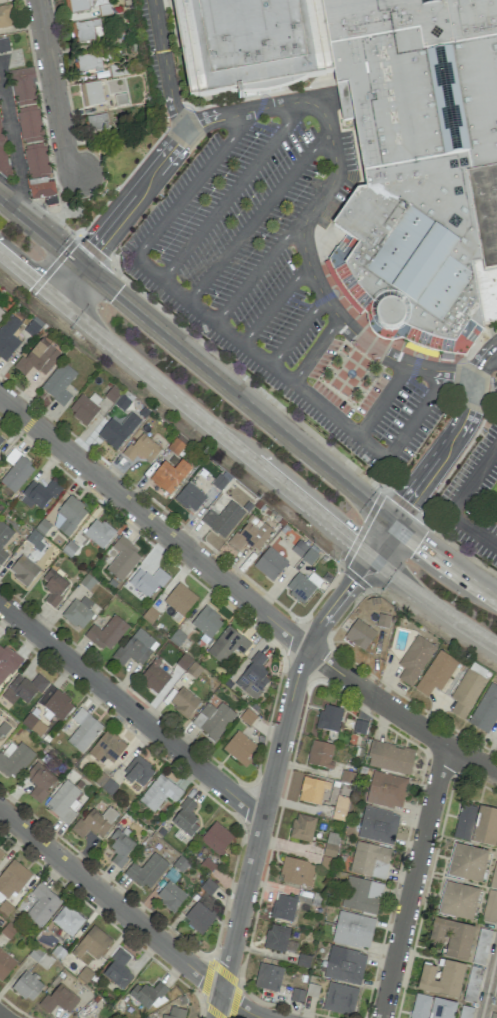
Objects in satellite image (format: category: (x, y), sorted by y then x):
building: (86, 6)
building: (6, 16)
building: (87, 30)
building: (250, 45)
building: (4, 46)
parking lot: (155, 49)
building: (87, 63)
road: (164, 67)
road: (51, 75)
building: (91, 94)
building: (26, 104)
road: (263, 108)
building: (96, 122)
road: (11, 146)
building: (2, 155)
building: (36, 160)
road: (73, 163)
building: (416, 163)
road: (333, 177)
road: (193, 183)
building: (42, 190)
road: (232, 191)
road: (132, 197)
building: (484, 213)
road: (258, 215)
road: (38, 232)
traffic signals: (93, 246)
road: (260, 269)
road: (65, 280)
traffic signals: (35, 282)
parking lot: (280, 282)
traffic signals: (114, 295)
road: (275, 302)
building: (1, 312)
road: (296, 331)
road: (353, 333)
building: (8, 337)
road: (315, 350)
road: (260, 357)
building: (38, 358)
building: (58, 383)
road: (383, 399)
building: (85, 407)
road: (416, 415)
building: (117, 431)
road: (284, 435)
road: (14, 438)
road: (452, 438)
building: (0, 439)
building: (141, 449)
road: (244, 454)
building: (16, 471)
building: (169, 476)
building: (39, 494)
parking lot: (473, 494)
building: (189, 497)
traffic signals: (406, 503)
road: (454, 504)
building: (68, 516)
building: (223, 519)
building: (98, 533)
building: (250, 535)
building: (4, 539)
traffic signals: (352, 543)
traffic signals: (418, 543)
building: (123, 559)
building: (269, 564)
building: (23, 570)
building: (147, 582)
traffic signals: (354, 582)
building: (302, 586)
building: (53, 587)
road: (241, 595)
building: (180, 599)
building: (79, 611)
building: (206, 624)
building: (107, 633)
building: (359, 634)
building: (228, 644)
building: (136, 648)
building: (414, 659)
road: (302, 660)
building: (7, 663)
building: (436, 673)
building: (155, 676)
building: (253, 676)
building: (27, 691)
building: (466, 692)
building: (183, 702)
building: (58, 705)
building: (485, 709)
road: (131, 711)
building: (41, 714)
building: (329, 718)
building: (213, 720)
building: (33, 725)
building: (3, 728)
building: (83, 730)
building: (496, 739)
building: (107, 747)
building: (239, 748)
building: (320, 754)
building: (389, 757)
building: (13, 759)
building: (137, 772)
building: (39, 781)
building: (312, 790)
building: (385, 790)
building: (159, 793)
building: (64, 801)
building: (339, 808)
building: (185, 818)
building: (94, 822)
building: (464, 822)
building: (377, 825)
building: (302, 827)
building: (486, 827)
building: (216, 838)
building: (120, 847)
building: (1, 855)
building: (467, 862)
building: (146, 871)
building: (296, 872)
building: (12, 879)
road: (413, 881)
building: (361, 895)
building: (170, 896)
building: (491, 897)
road: (110, 900)
building: (458, 900)
building: (42, 905)
road: (241, 906)
building: (283, 907)
building: (198, 917)
building: (67, 920)
building: (353, 930)
building: (452, 937)
building: (278, 938)
building: (91, 943)
building: (481, 946)
building: (5, 964)
building: (344, 965)
building: (118, 969)
building: (268, 977)
building: (441, 978)
road: (488, 981)
building: (472, 984)
building: (27, 986)
building: (312, 990)
building: (148, 995)
building: (496, 996)
building: (339, 998)
building: (59, 999)
road: (217, 1005)
road: (240, 1006)
building: (420, 1006)
building: (442, 1009)
building: (465, 1012)
building: (174, 1013)
building: (493, 1015)
road: (0, 1017)

